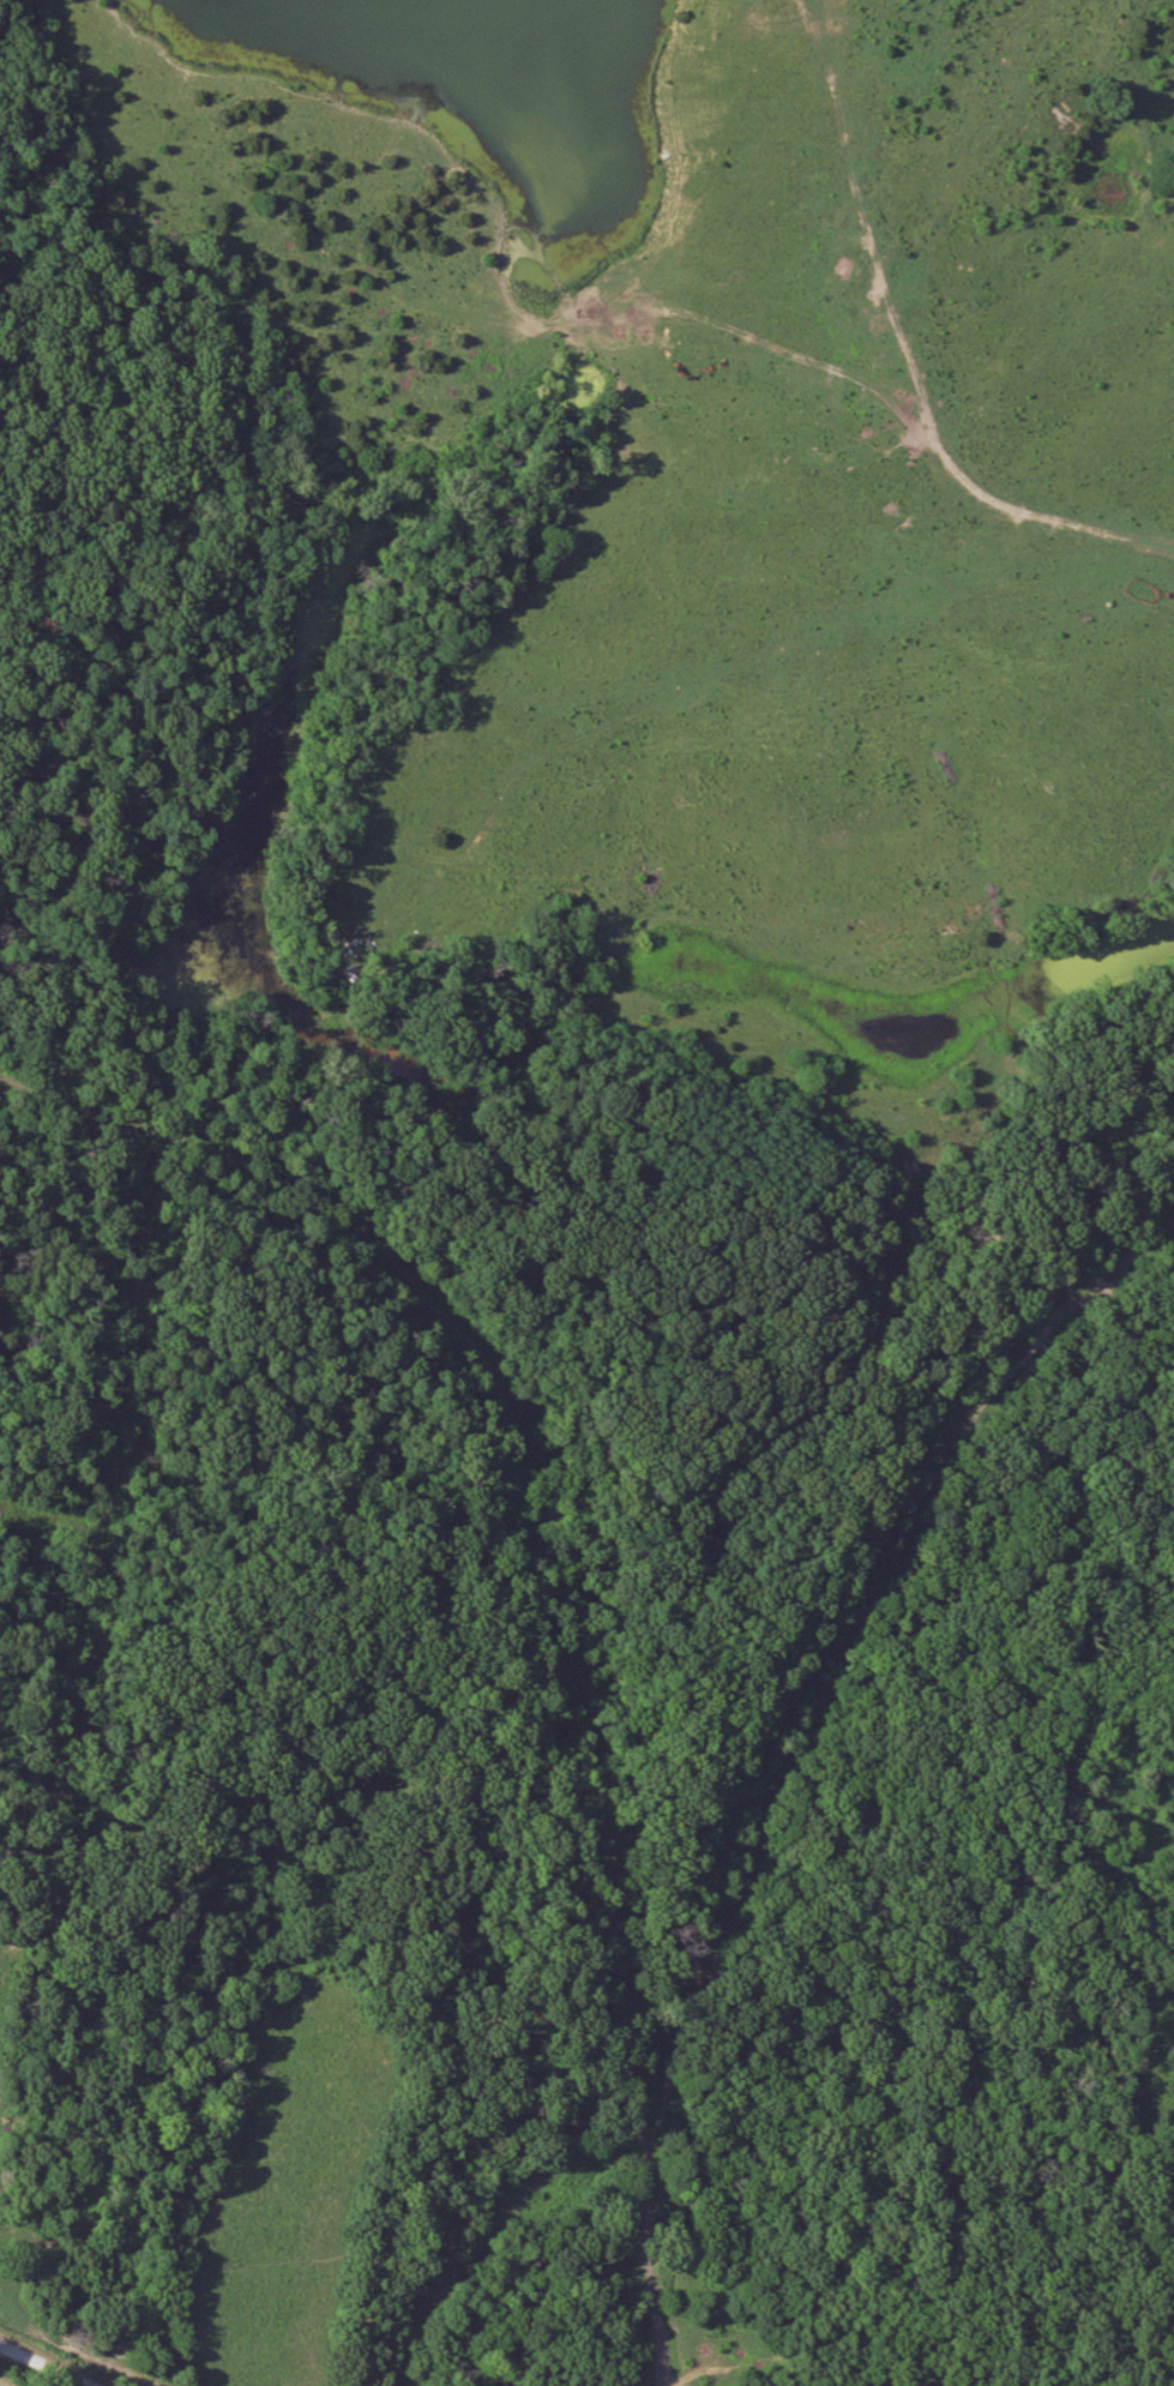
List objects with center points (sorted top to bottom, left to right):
road: (47, 2363)

